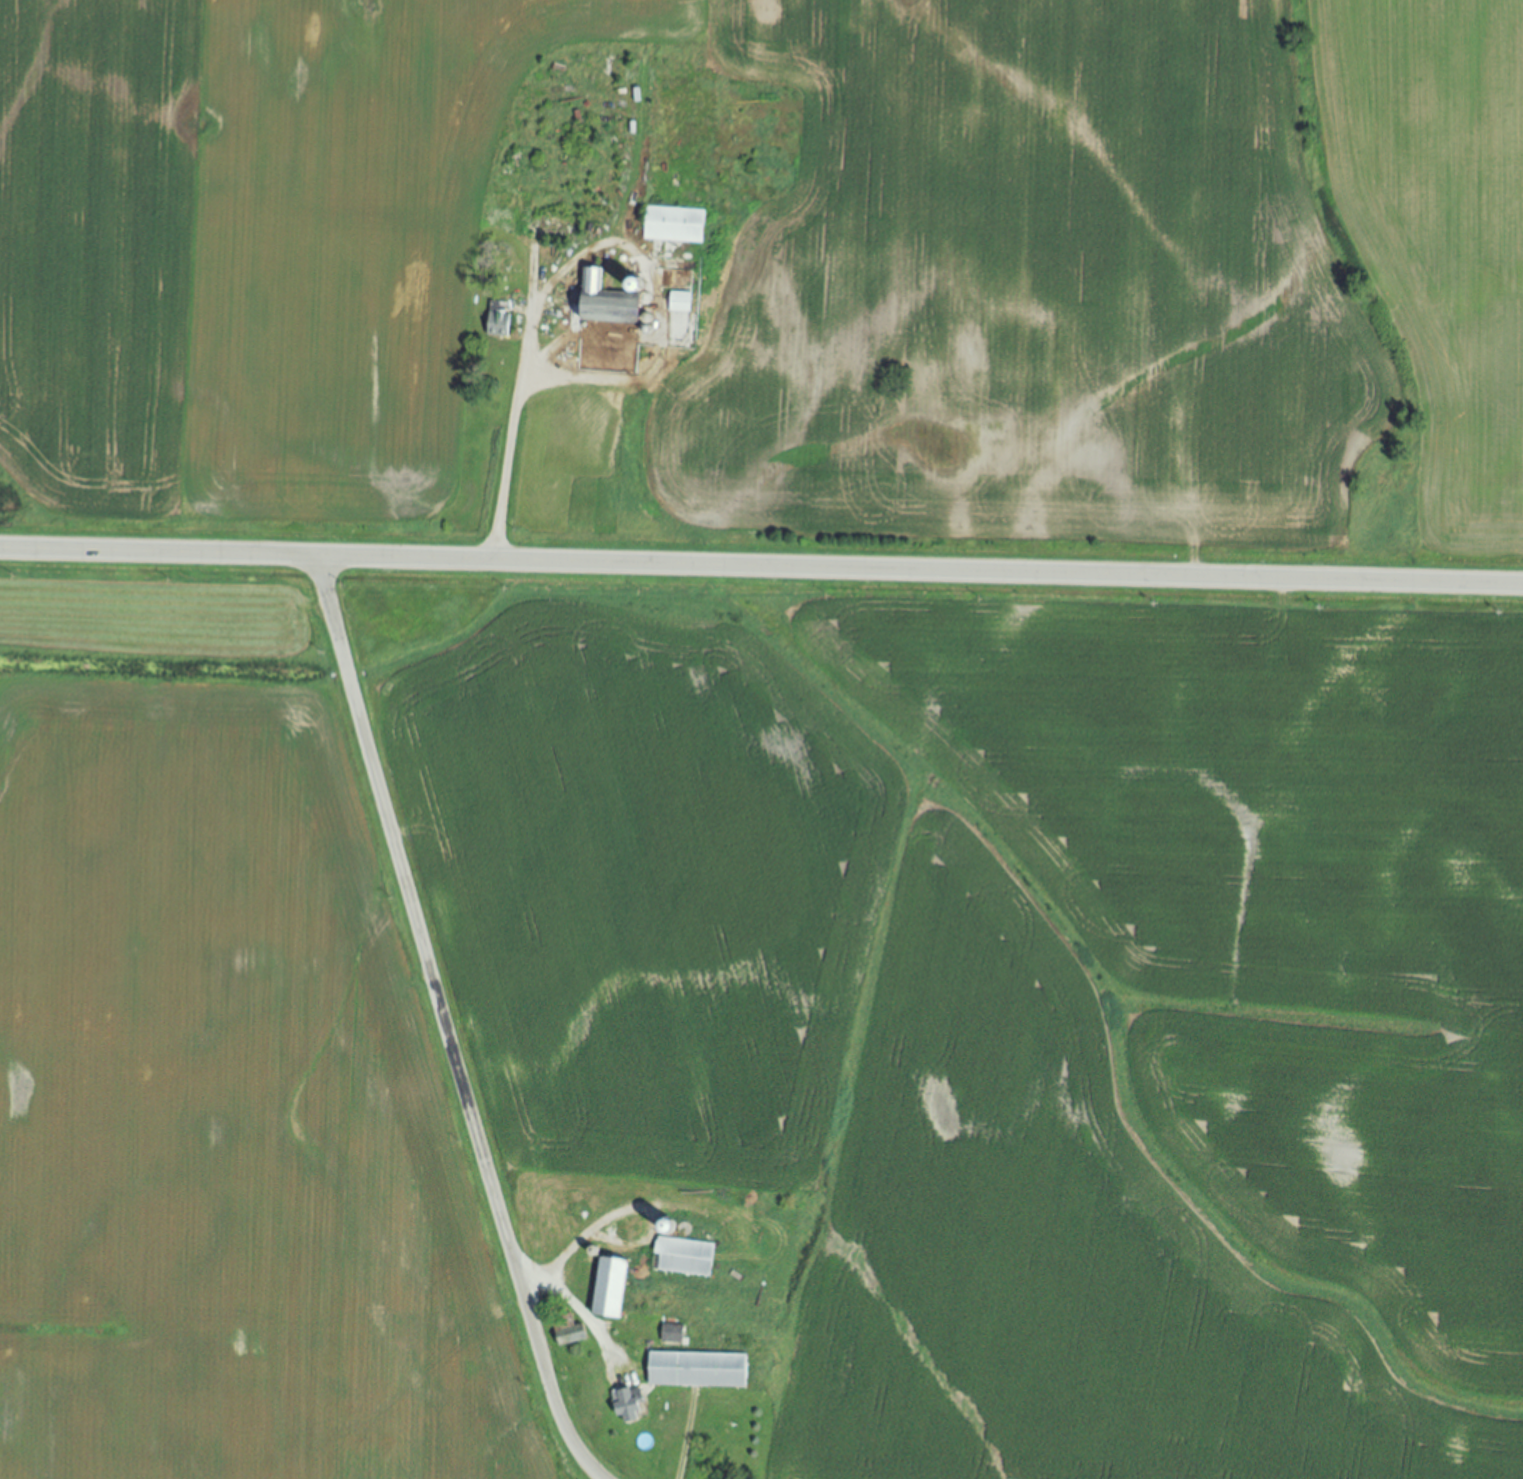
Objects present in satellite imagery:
building: (673, 225)
building: (604, 303)
building: (679, 303)
building: (500, 321)
road: (511, 442)
road: (761, 568)
road: (446, 1025)
building: (681, 1258)
building: (608, 1288)
road: (573, 1308)
building: (567, 1332)
building: (670, 1334)
building: (696, 1371)
building: (626, 1406)

